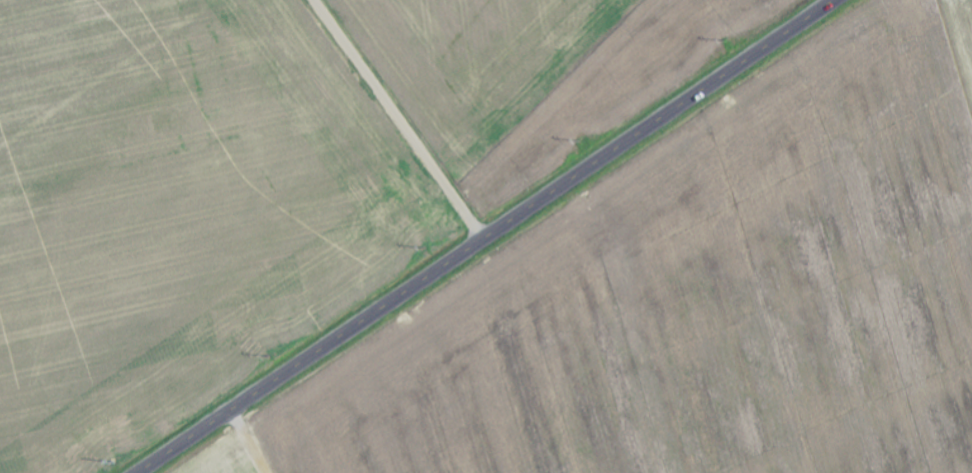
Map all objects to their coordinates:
road: (398, 120)
road: (487, 237)

